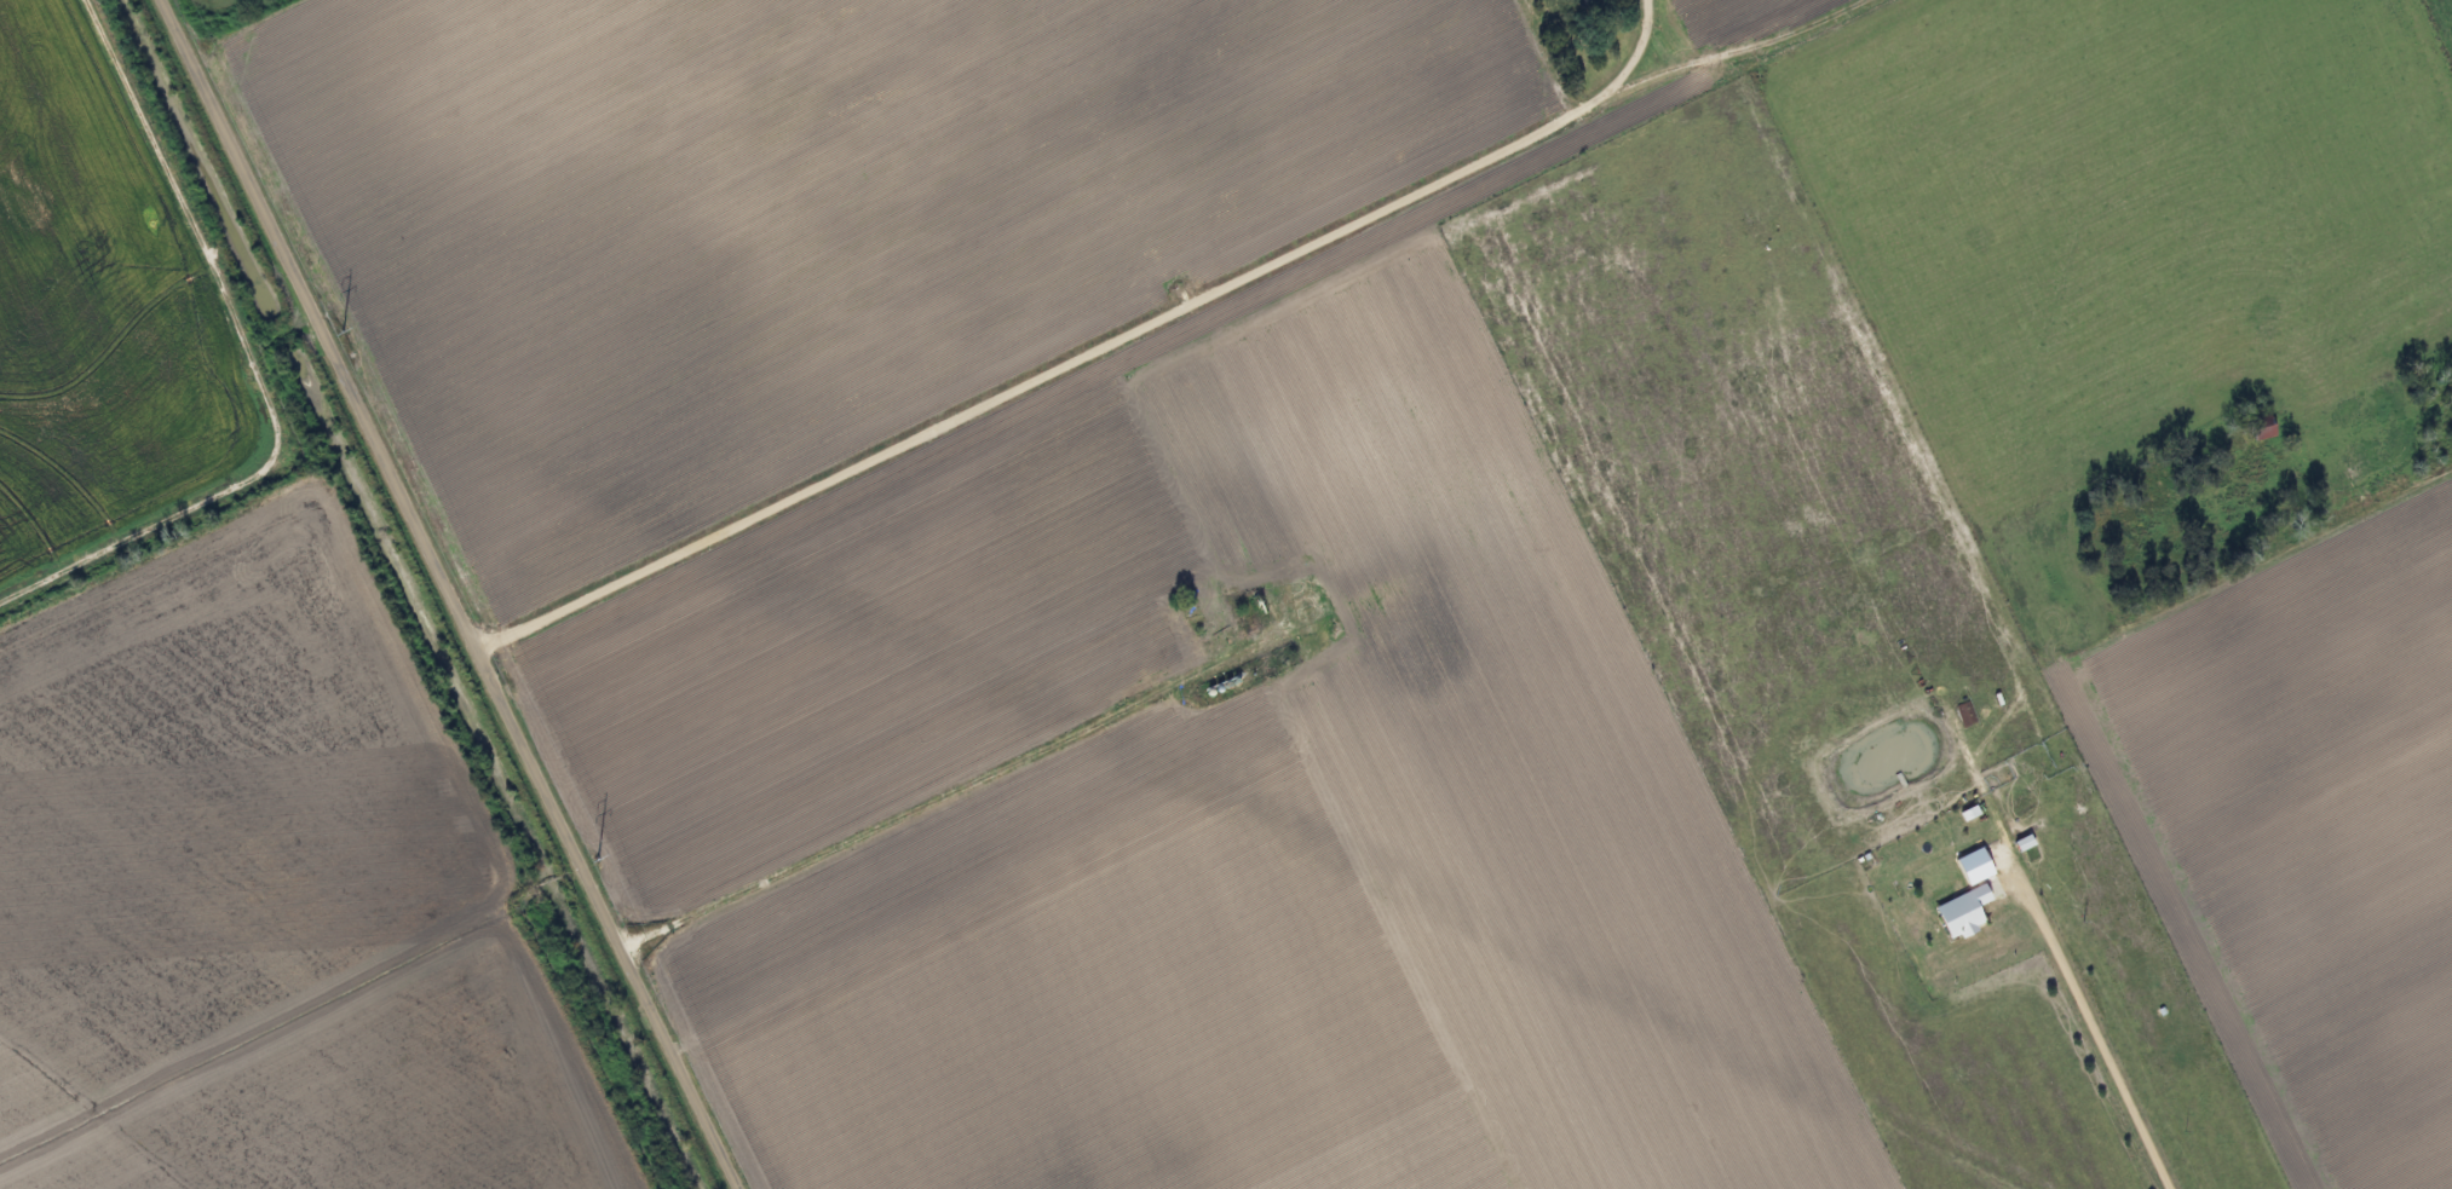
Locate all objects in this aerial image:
building: (1582, 2)
power tower: (336, 330)
road: (1087, 347)
road: (447, 593)
road: (945, 793)
power tower: (591, 856)
road: (2091, 1031)

